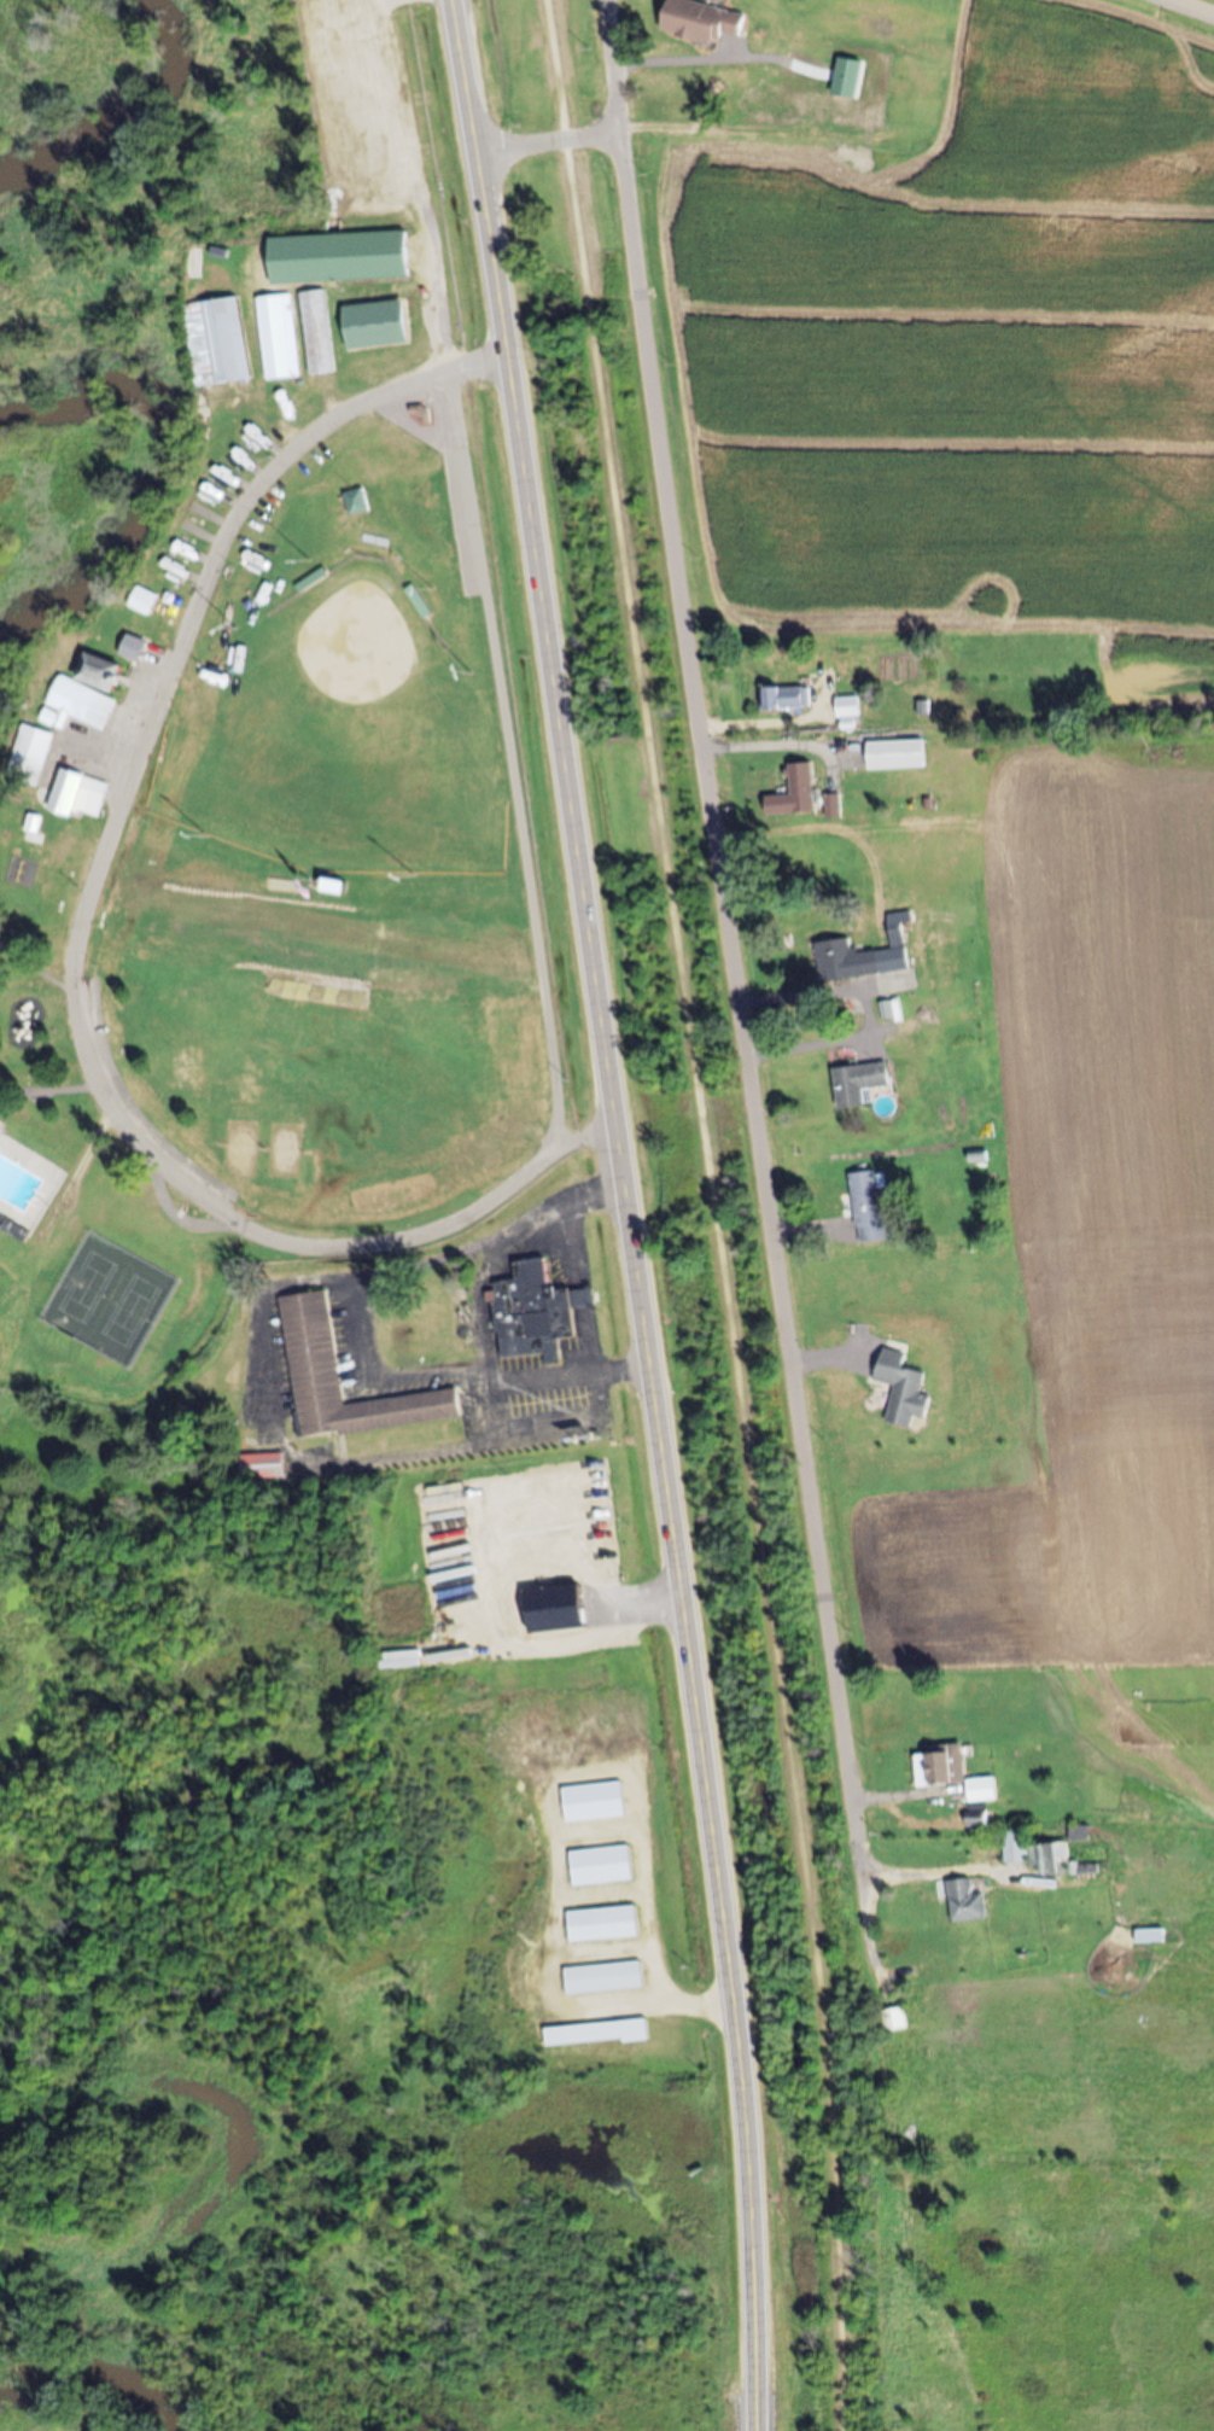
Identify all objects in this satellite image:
road: (1189, 8)
building: (701, 22)
road: (613, 64)
building: (860, 87)
road: (822, 91)
building: (783, 99)
river: (127, 117)
road: (549, 142)
building: (284, 251)
building: (379, 257)
building: (319, 332)
building: (280, 337)
building: (217, 340)
river: (167, 483)
building: (357, 501)
building: (144, 601)
building: (419, 601)
building: (133, 647)
building: (100, 671)
building: (788, 696)
building: (82, 703)
building: (848, 706)
building: (897, 753)
building: (30, 754)
road: (543, 756)
building: (802, 786)
building: (78, 793)
building: (28, 851)
park: (344, 862)
park: (331, 873)
building: (333, 884)
road: (76, 948)
building: (864, 955)
road: (737, 993)
building: (858, 1083)
building: (868, 1206)
road: (628, 1212)
road: (719, 1213)
building: (535, 1312)
building: (311, 1342)
building: (901, 1386)
building: (263, 1467)
building: (940, 1767)
building: (982, 1789)
building: (982, 1819)
building: (1080, 1834)
building: (1044, 1856)
building: (967, 1902)
building: (1151, 1936)
building: (895, 2019)
river: (89, 2391)

